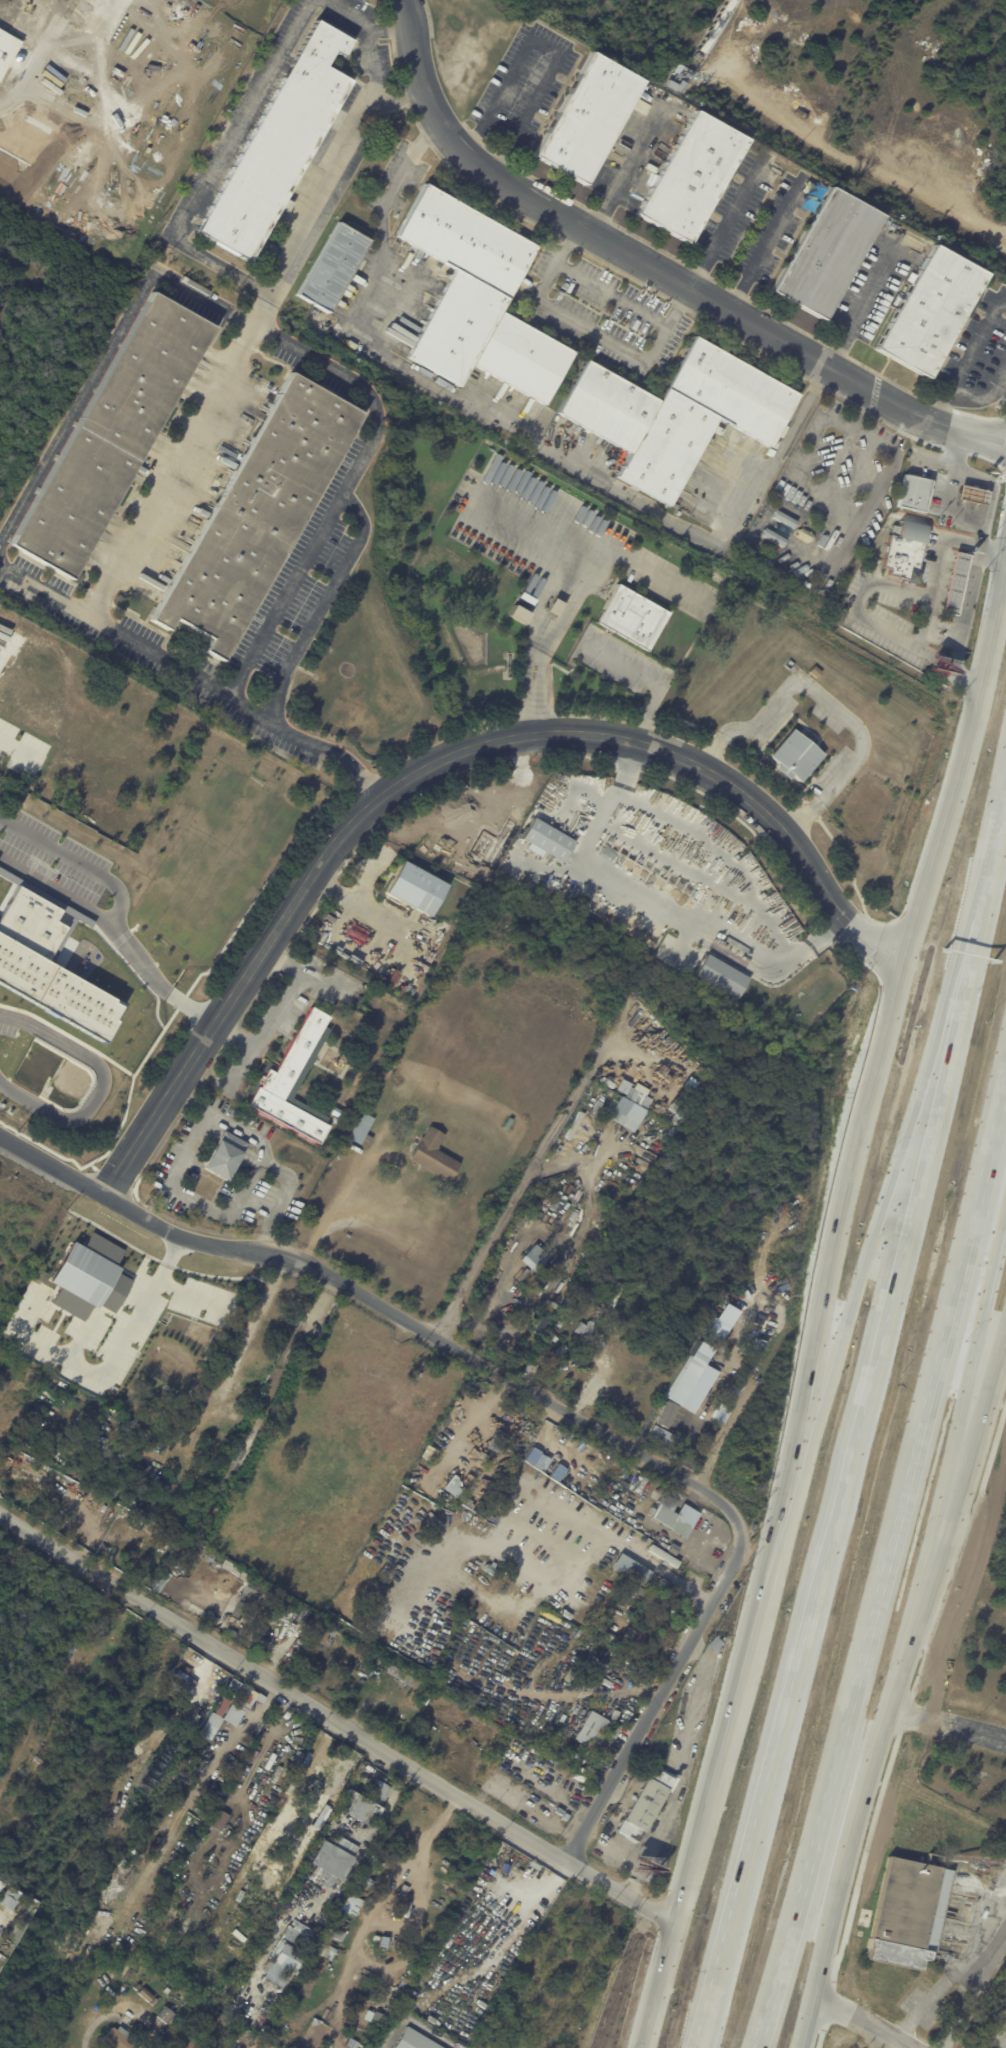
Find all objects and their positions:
road: (364, 24)
building: (718, 25)
road: (547, 46)
building: (6, 48)
road: (371, 66)
building: (678, 86)
building: (589, 118)
road: (246, 121)
building: (278, 146)
road: (628, 166)
building: (693, 176)
road: (496, 181)
road: (393, 185)
road: (726, 221)
road: (767, 243)
building: (827, 253)
building: (333, 267)
road: (223, 268)
road: (612, 295)
road: (404, 301)
building: (479, 301)
road: (863, 306)
building: (769, 308)
building: (933, 310)
road: (591, 331)
road: (276, 335)
road: (244, 338)
road: (977, 338)
road: (839, 371)
road: (984, 396)
road: (941, 401)
building: (677, 413)
building: (112, 435)
road: (584, 473)
building: (915, 493)
building: (977, 494)
road: (948, 499)
building: (258, 513)
building: (780, 527)
building: (906, 548)
road: (870, 577)
road: (572, 579)
building: (958, 583)
road: (927, 591)
building: (529, 598)
road: (322, 604)
building: (559, 607)
building: (520, 614)
building: (632, 617)
road: (189, 674)
road: (65, 676)
road: (650, 680)
road: (830, 698)
road: (437, 756)
building: (794, 756)
building: (546, 840)
road: (983, 884)
building: (415, 888)
road: (116, 900)
road: (659, 907)
building: (718, 975)
road: (150, 981)
road: (277, 1012)
building: (336, 1040)
road: (238, 1066)
building: (293, 1081)
road: (97, 1084)
building: (601, 1091)
building: (634, 1101)
building: (249, 1118)
building: (337, 1120)
building: (362, 1127)
road: (262, 1152)
building: (225, 1155)
building: (435, 1155)
road: (517, 1191)
road: (876, 1228)
road: (572, 1246)
building: (539, 1257)
building: (606, 1273)
building: (89, 1277)
building: (614, 1299)
road: (380, 1304)
building: (571, 1308)
road: (822, 1311)
road: (476, 1319)
building: (564, 1320)
building: (544, 1321)
building: (587, 1328)
building: (716, 1330)
building: (684, 1379)
road: (966, 1384)
building: (666, 1414)
building: (659, 1436)
building: (449, 1489)
building: (668, 1514)
road: (836, 1516)
road: (649, 1564)
road: (886, 1567)
building: (633, 1570)
building: (661, 1588)
building: (249, 1595)
building: (289, 1610)
building: (1005, 1636)
building: (640, 1638)
building: (717, 1643)
building: (1005, 1651)
building: (392, 1670)
building: (370, 1672)
road: (896, 1688)
road: (660, 1694)
building: (237, 1700)
building: (426, 1701)
building: (615, 1715)
building: (214, 1718)
road: (911, 1720)
road: (340, 1722)
road: (948, 1723)
building: (595, 1731)
building: (615, 1731)
building: (608, 1745)
road: (681, 1776)
road: (560, 1798)
building: (650, 1800)
building: (367, 1802)
building: (330, 1859)
road: (633, 1873)
building: (9, 1898)
building: (348, 1908)
building: (395, 1912)
building: (909, 1912)
building: (394, 1917)
road: (392, 1924)
road: (359, 1940)
building: (389, 1942)
building: (330, 1951)
building: (317, 1954)
building: (290, 1955)
road: (948, 1973)
building: (138, 1986)
building: (168, 1989)
building: (146, 1994)
building: (154, 2001)
building: (166, 2014)
road: (864, 2022)
road: (90, 2023)
road: (414, 2024)
parking lot: (999, 2036)
building: (121, 2039)
building: (415, 2040)

